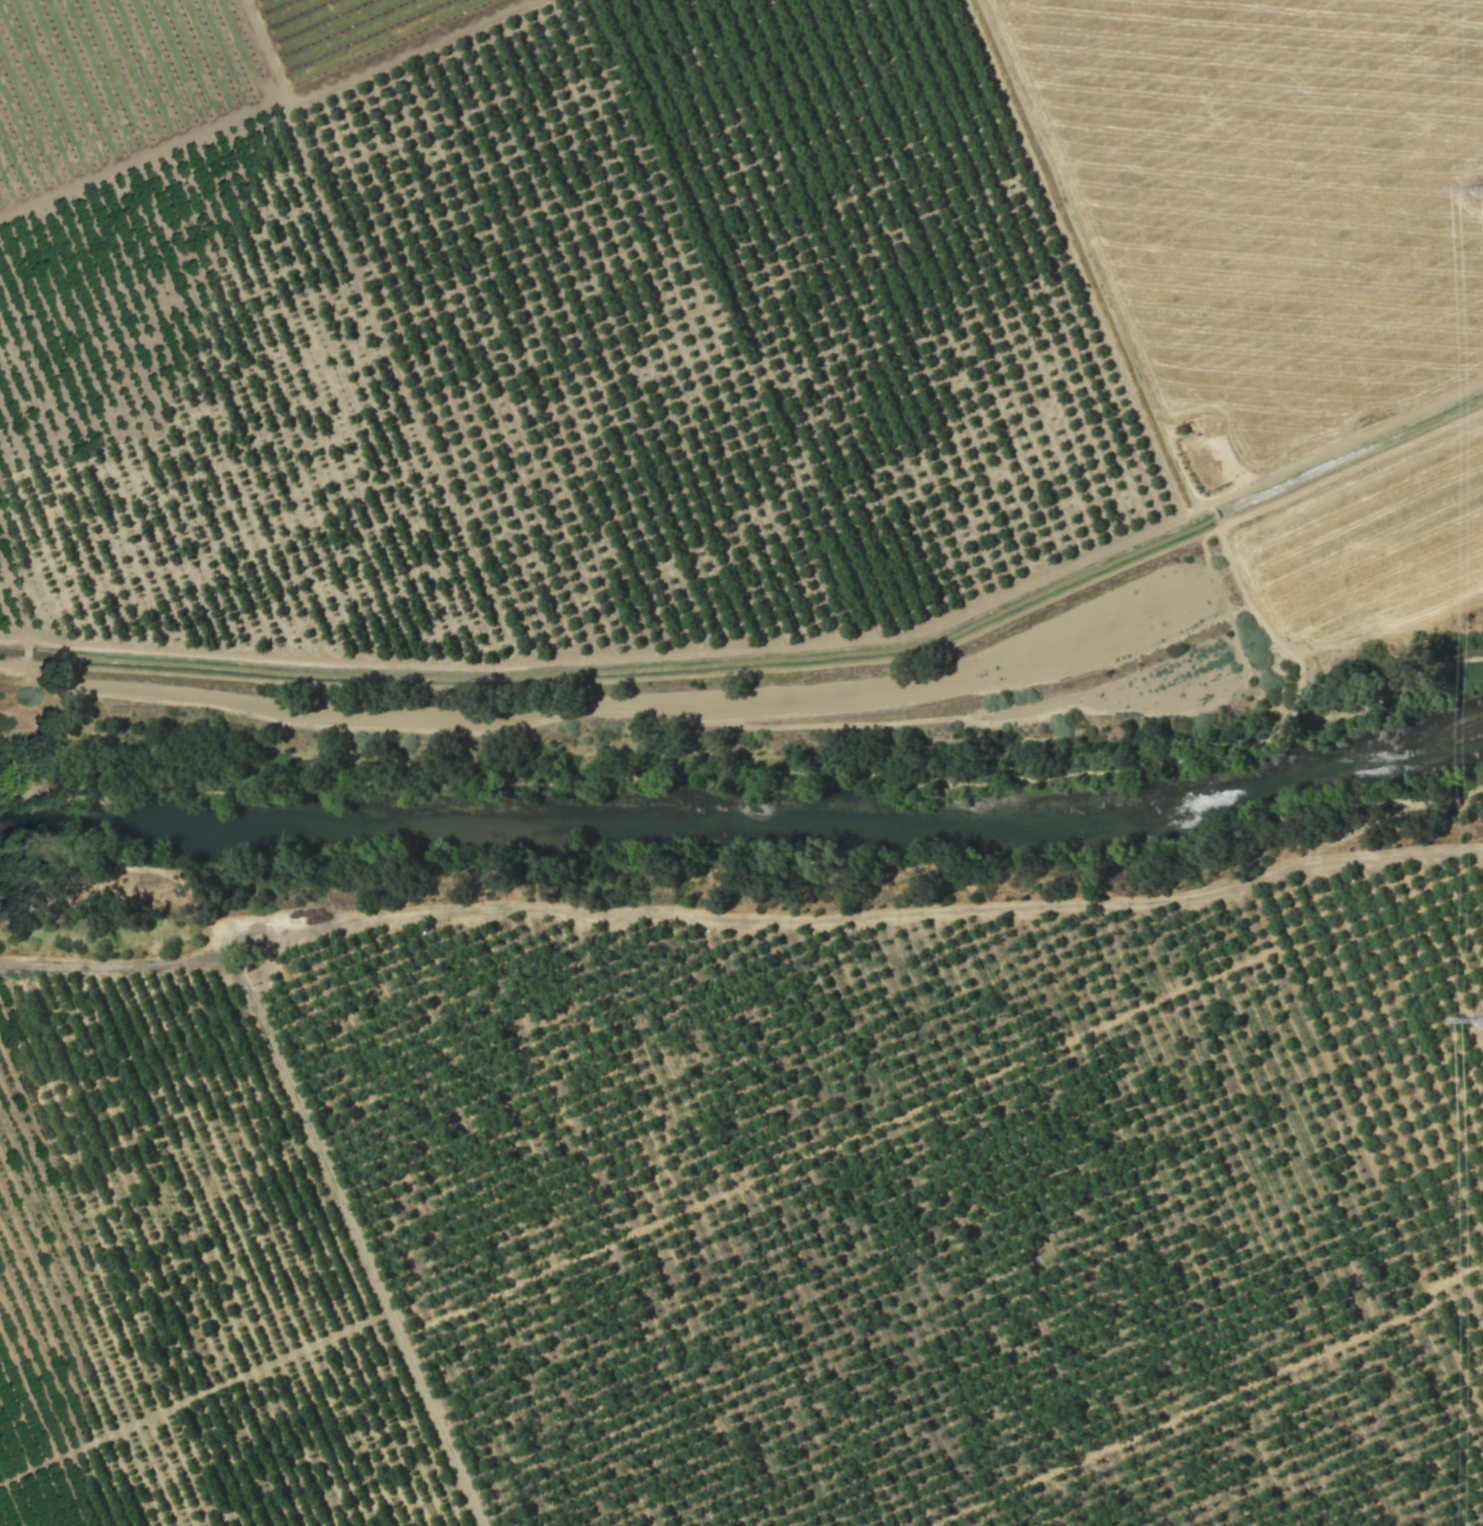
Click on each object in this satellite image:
river: (748, 811)
road: (742, 917)
road: (359, 1233)

